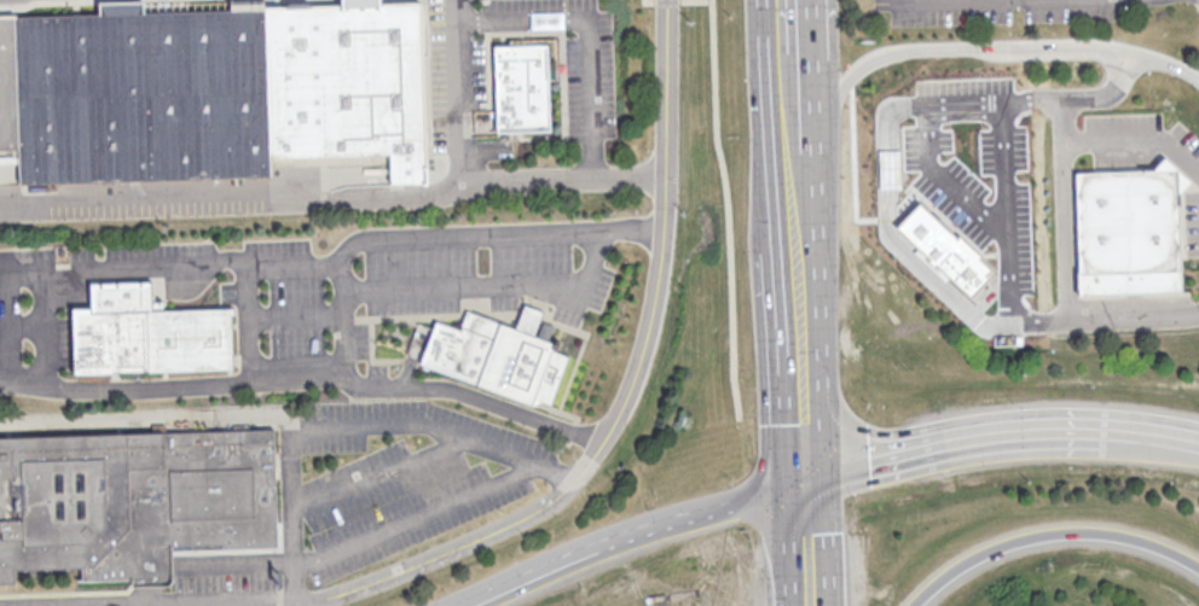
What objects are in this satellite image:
road: (649, 0)
road: (667, 0)
parking lot: (996, 10)
building: (548, 19)
road: (794, 29)
road: (584, 35)
road: (1043, 48)
road: (886, 51)
road: (1142, 54)
road: (1110, 59)
road: (1134, 71)
building: (527, 91)
building: (209, 93)
road: (463, 94)
road: (797, 94)
road: (1062, 100)
road: (1076, 138)
road: (1148, 138)
road: (798, 140)
parking lot: (1141, 142)
road: (945, 180)
road: (332, 193)
road: (888, 193)
parking lot: (958, 194)
road: (799, 198)
road: (728, 208)
road: (1066, 211)
road: (1008, 214)
parking lot: (1193, 223)
building: (1131, 231)
road: (452, 233)
building: (945, 249)
road: (207, 268)
road: (480, 284)
road: (41, 309)
road: (295, 316)
road: (804, 317)
road: (1104, 320)
road: (21, 324)
road: (342, 332)
building: (150, 336)
building: (499, 355)
road: (306, 377)
road: (633, 385)
road: (238, 418)
road: (438, 427)
road: (1151, 432)
road: (806, 436)
road: (951, 437)
road: (381, 476)
traffic signals: (807, 483)
building: (135, 502)
road: (417, 515)
road: (703, 515)
road: (1048, 531)
road: (809, 544)
road: (243, 560)
road: (525, 575)
road: (539, 578)
road: (296, 604)

